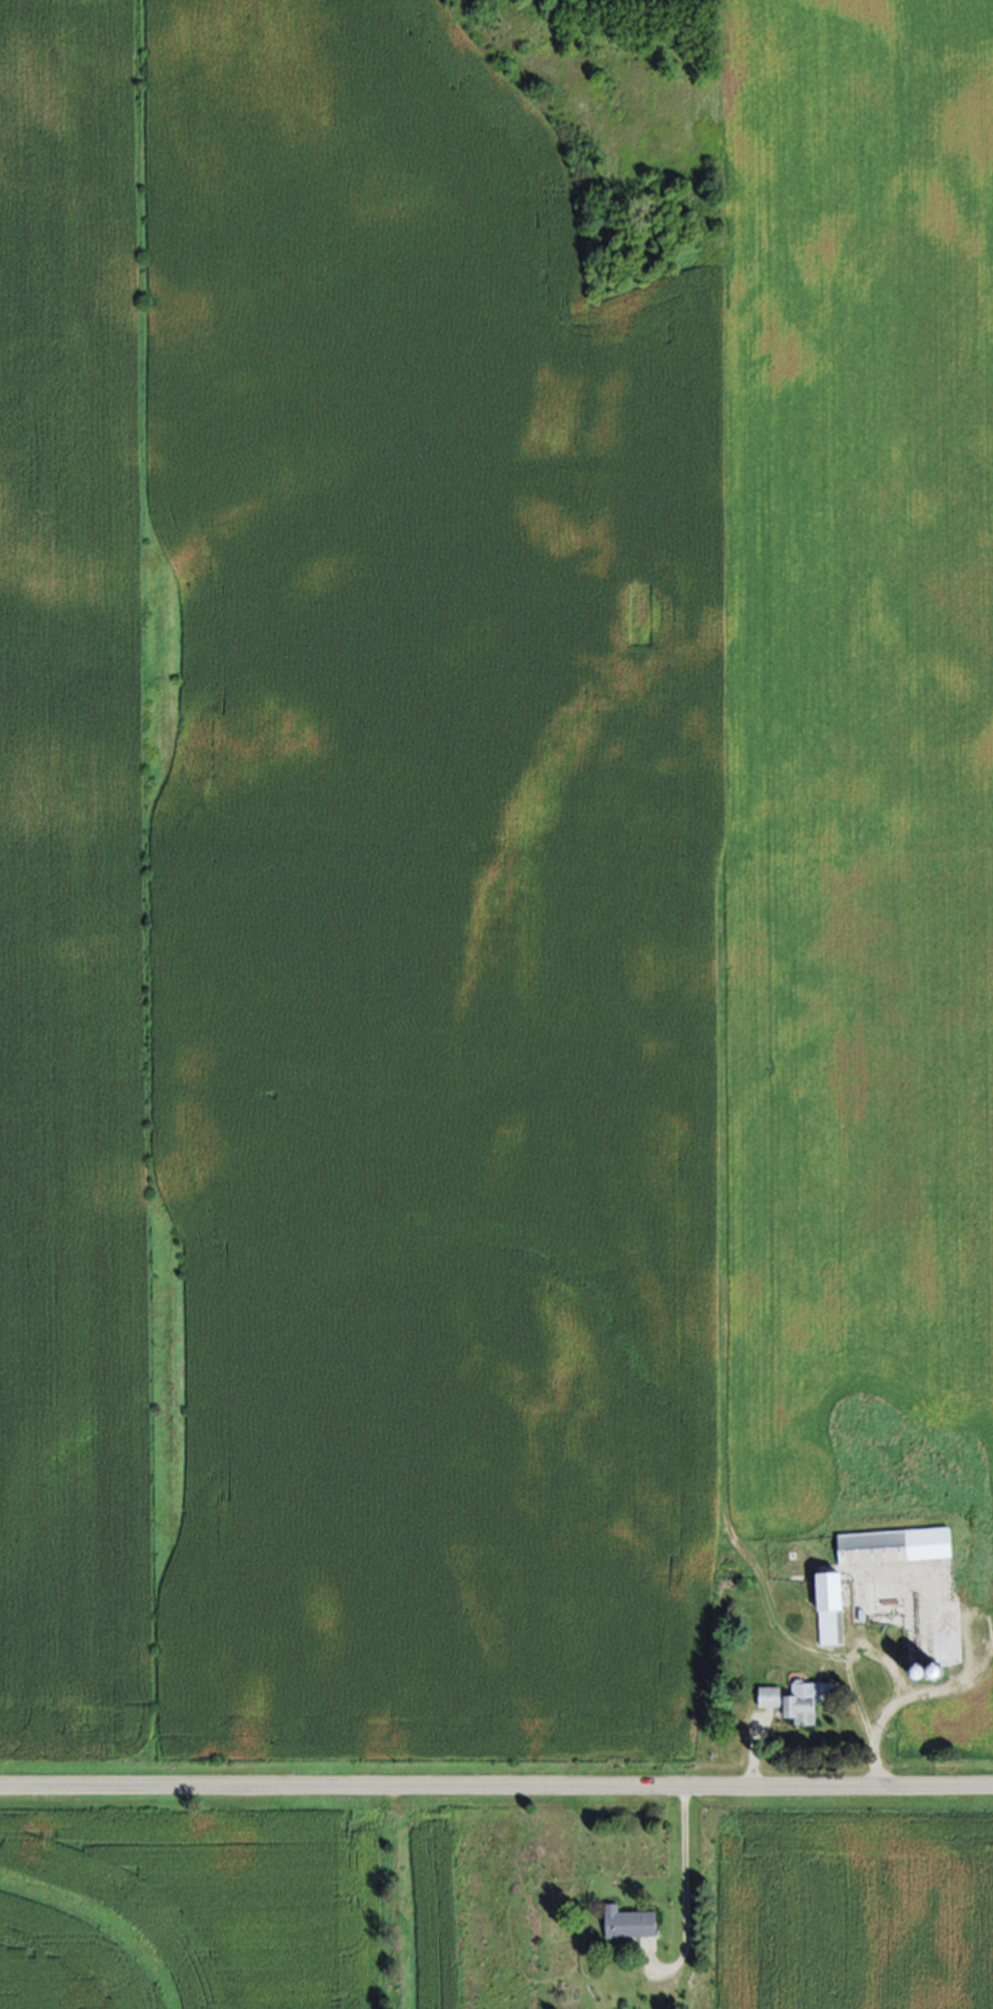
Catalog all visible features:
building: (895, 1547)
building: (831, 1609)
road: (888, 1665)
building: (770, 1698)
building: (807, 1701)
road: (496, 1787)
road: (682, 1886)
building: (629, 1923)

